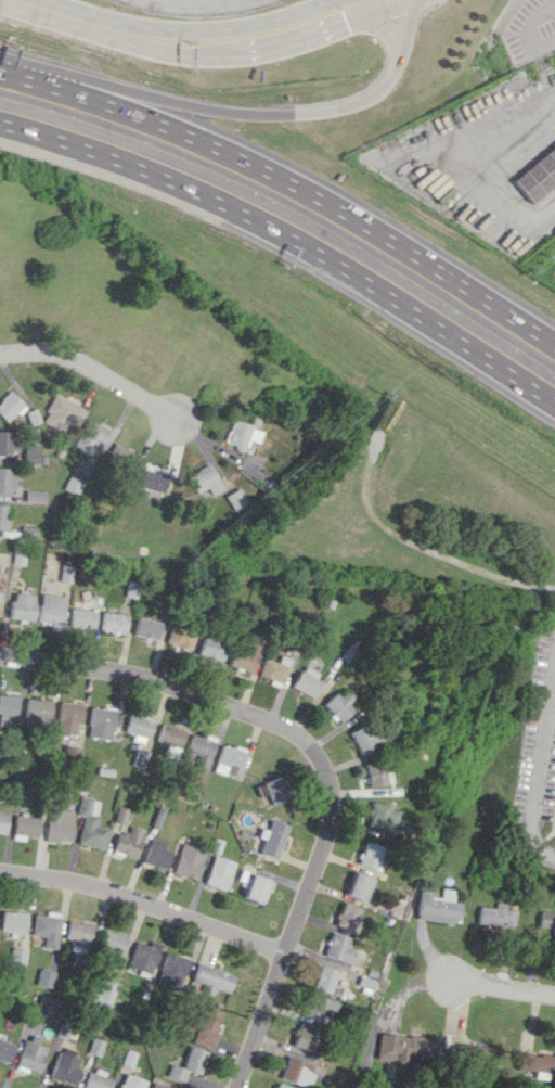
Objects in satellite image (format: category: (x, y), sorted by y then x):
parking lot: (194, 5)
road: (364, 9)
road: (56, 12)
traffic signals: (347, 25)
road: (214, 28)
road: (529, 29)
parking lot: (529, 30)
road: (388, 35)
road: (255, 52)
airport: (311, 52)
road: (14, 76)
road: (254, 112)
road: (476, 172)
building: (538, 175)
road: (302, 190)
road: (288, 238)
road: (93, 368)
building: (9, 406)
building: (63, 412)
building: (242, 434)
building: (91, 436)
building: (5, 443)
building: (29, 452)
building: (122, 455)
building: (154, 478)
building: (7, 479)
building: (204, 479)
building: (34, 496)
building: (236, 498)
building: (3, 515)
road: (417, 548)
building: (65, 573)
building: (0, 594)
building: (21, 606)
building: (50, 609)
building: (80, 617)
building: (112, 622)
building: (145, 627)
building: (179, 637)
building: (210, 648)
building: (243, 654)
building: (271, 670)
road: (166, 681)
building: (304, 681)
building: (337, 704)
building: (36, 711)
building: (8, 714)
building: (66, 718)
building: (100, 722)
building: (138, 725)
building: (168, 734)
building: (362, 738)
building: (199, 745)
road: (534, 754)
building: (138, 757)
building: (227, 759)
building: (372, 772)
building: (270, 790)
building: (119, 815)
building: (379, 815)
building: (2, 821)
building: (25, 824)
building: (89, 824)
building: (57, 825)
building: (270, 837)
building: (127, 841)
building: (155, 853)
building: (366, 855)
building: (188, 861)
building: (218, 872)
building: (354, 885)
building: (253, 887)
road: (144, 901)
building: (434, 906)
building: (494, 914)
building: (345, 916)
building: (12, 921)
road: (294, 921)
building: (546, 922)
building: (46, 927)
building: (78, 935)
building: (111, 946)
building: (337, 947)
building: (142, 956)
building: (170, 970)
building: (44, 977)
building: (210, 977)
building: (322, 978)
road: (502, 987)
building: (103, 993)
building: (42, 1004)
building: (315, 1007)
building: (201, 1026)
building: (302, 1036)
building: (402, 1047)
building: (4, 1050)
building: (477, 1051)
building: (30, 1054)
building: (535, 1062)
building: (186, 1064)
building: (64, 1065)
building: (294, 1071)
building: (95, 1079)
building: (130, 1081)
building: (155, 1086)
building: (280, 1086)

